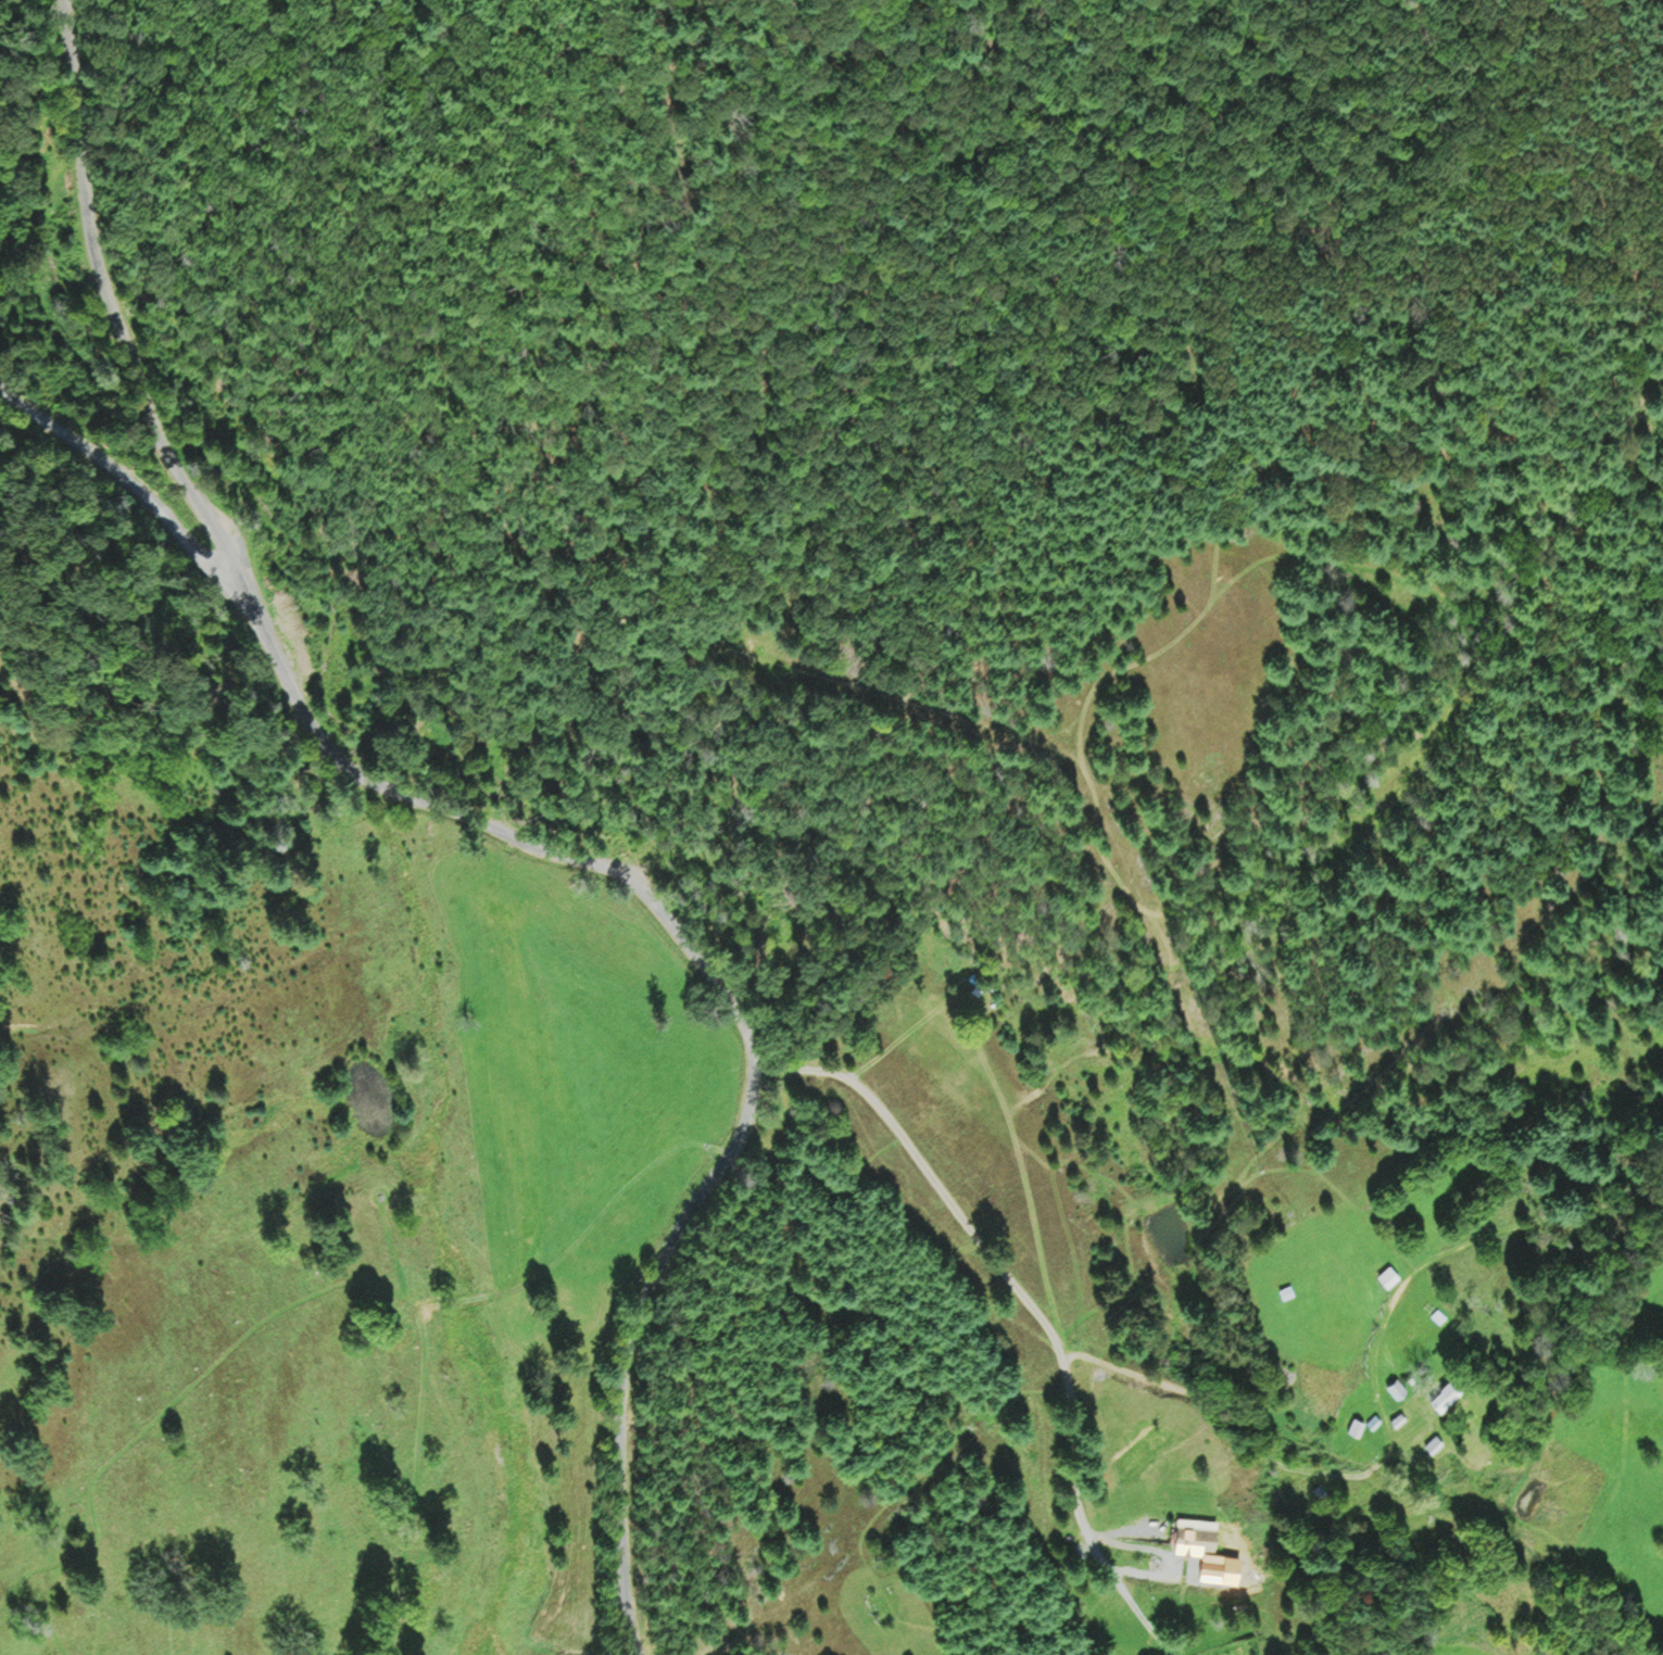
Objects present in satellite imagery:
road: (112, 480)
road: (495, 832)
building: (1390, 1275)
building: (1288, 1291)
building: (1439, 1315)
road: (1054, 1337)
building: (1399, 1388)
building: (1449, 1394)
building: (1401, 1418)
building: (1375, 1422)
building: (1358, 1425)
building: (1436, 1442)
road: (1072, 1463)
building: (1197, 1533)
building: (1217, 1564)

